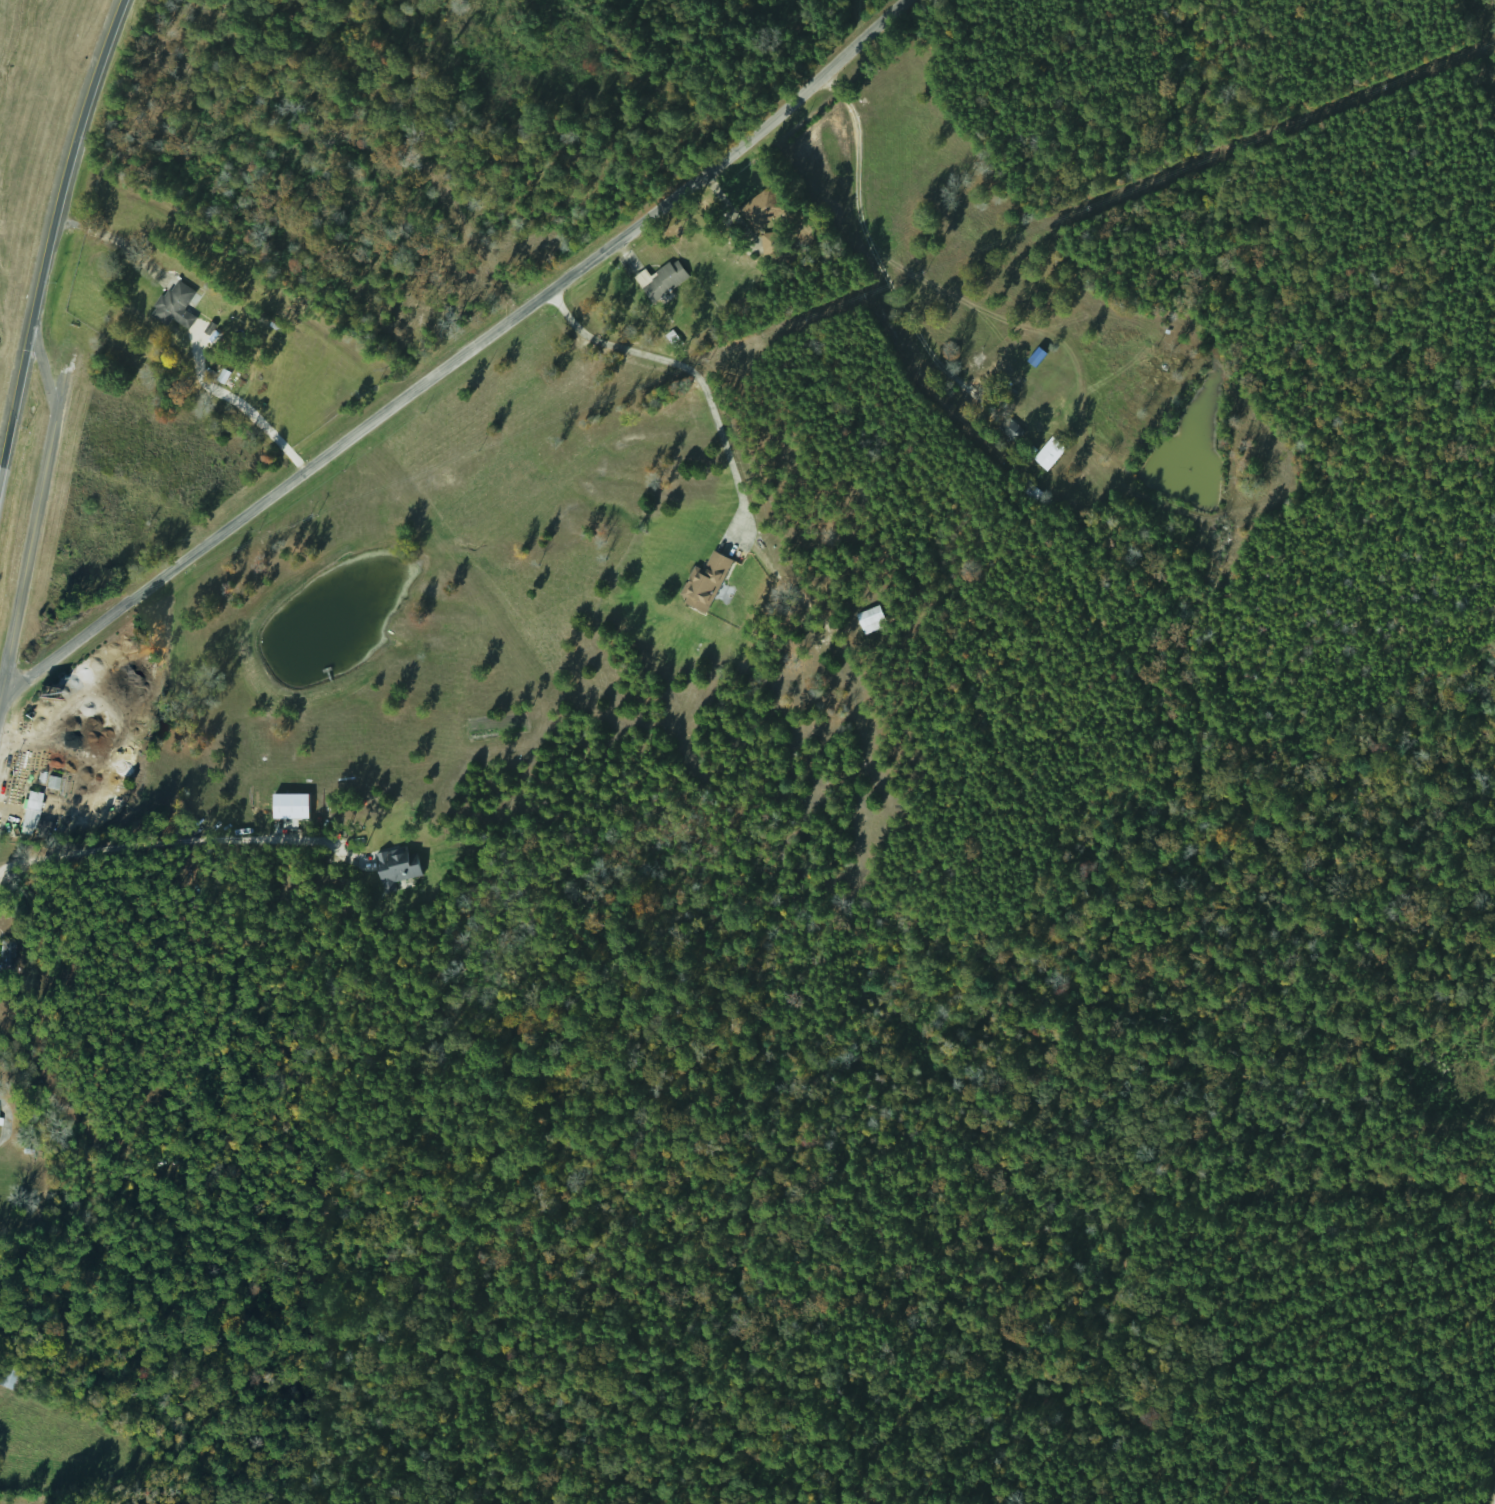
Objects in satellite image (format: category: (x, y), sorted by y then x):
building: (761, 206)
road: (46, 230)
road: (873, 253)
road: (1461, 273)
building: (659, 279)
building: (172, 304)
road: (460, 354)
road: (43, 366)
road: (693, 376)
building: (1012, 431)
building: (1045, 453)
road: (33, 525)
building: (701, 582)
building: (866, 619)
building: (26, 810)
building: (394, 864)
building: (6, 957)
building: (9, 1379)

